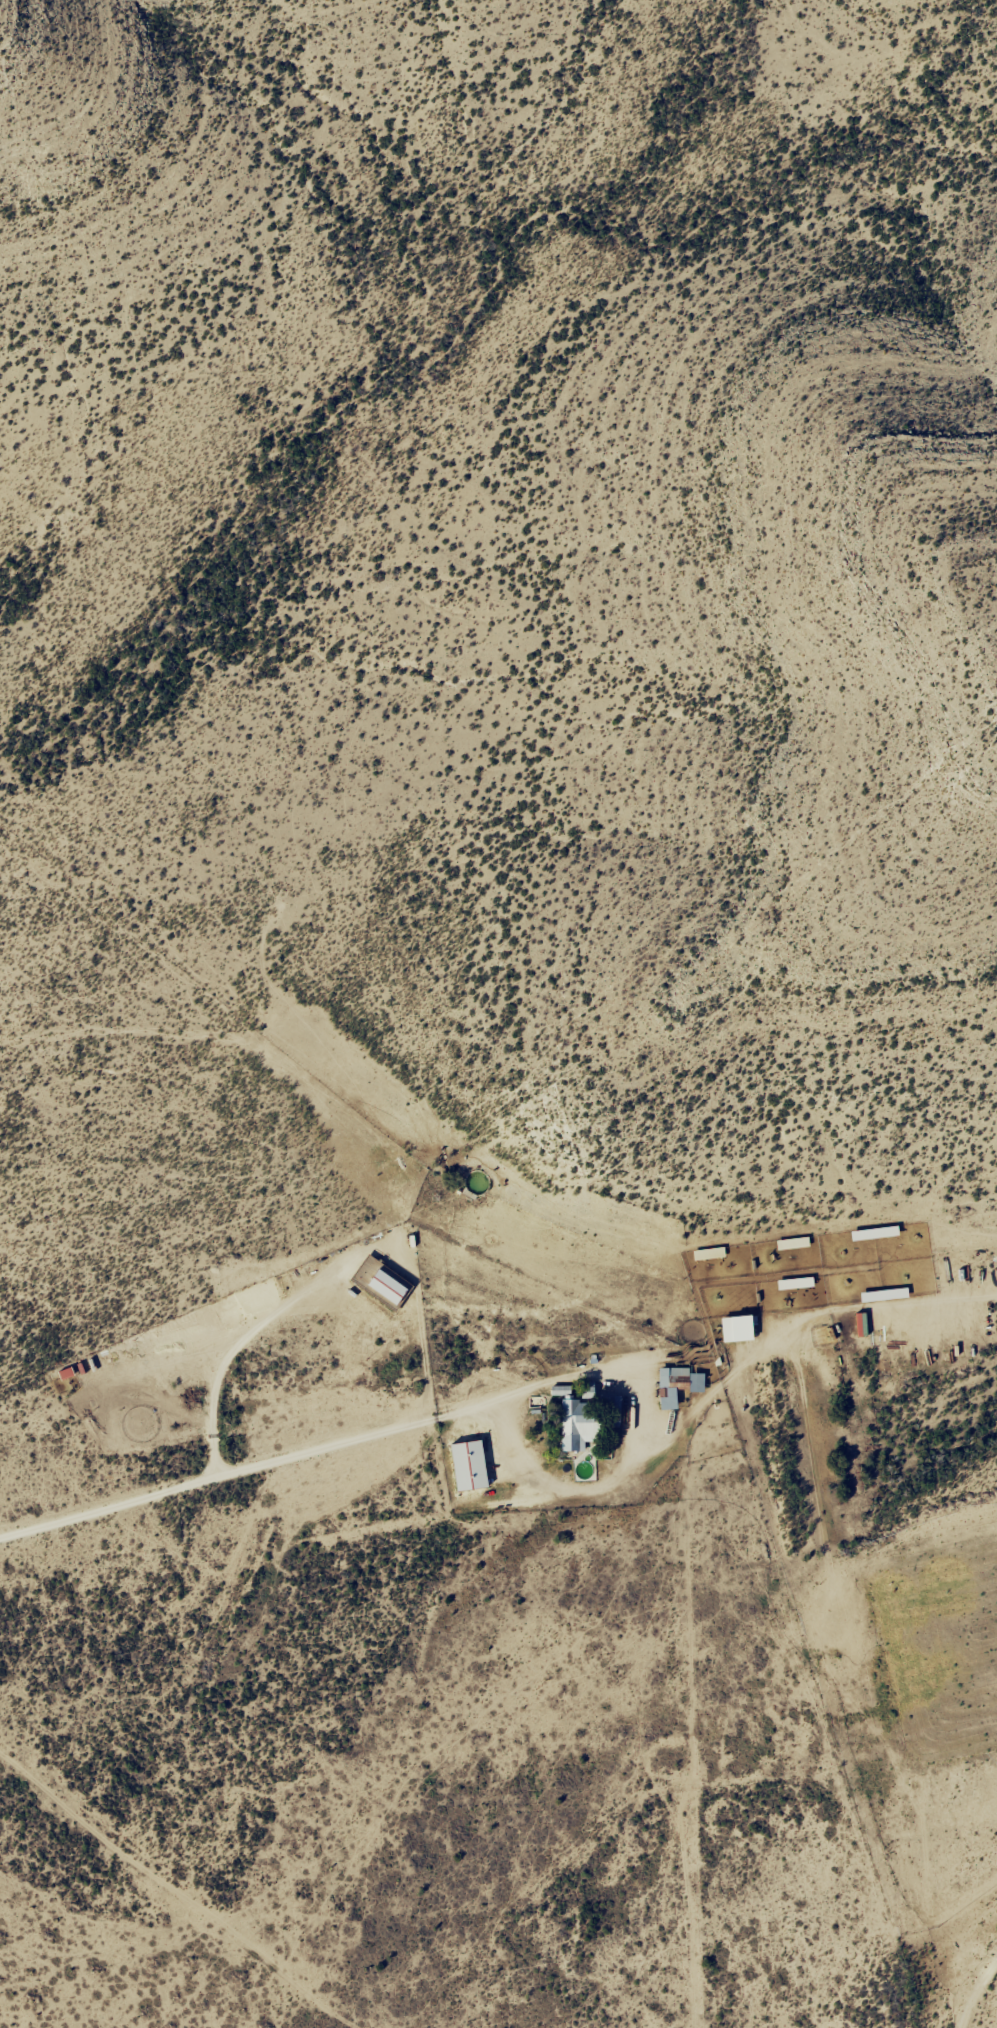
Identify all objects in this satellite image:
building: (733, 1322)
building: (676, 1378)
building: (584, 1389)
building: (558, 1390)
building: (611, 1409)
building: (572, 1426)
building: (473, 1440)
road: (222, 1475)
road: (979, 2001)

